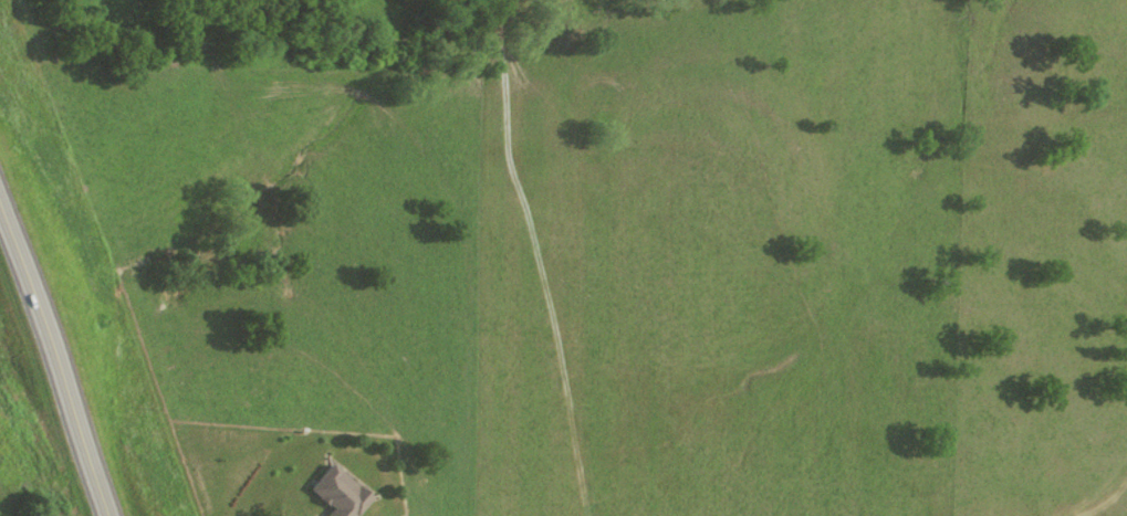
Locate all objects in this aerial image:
road: (51, 372)
building: (341, 494)

